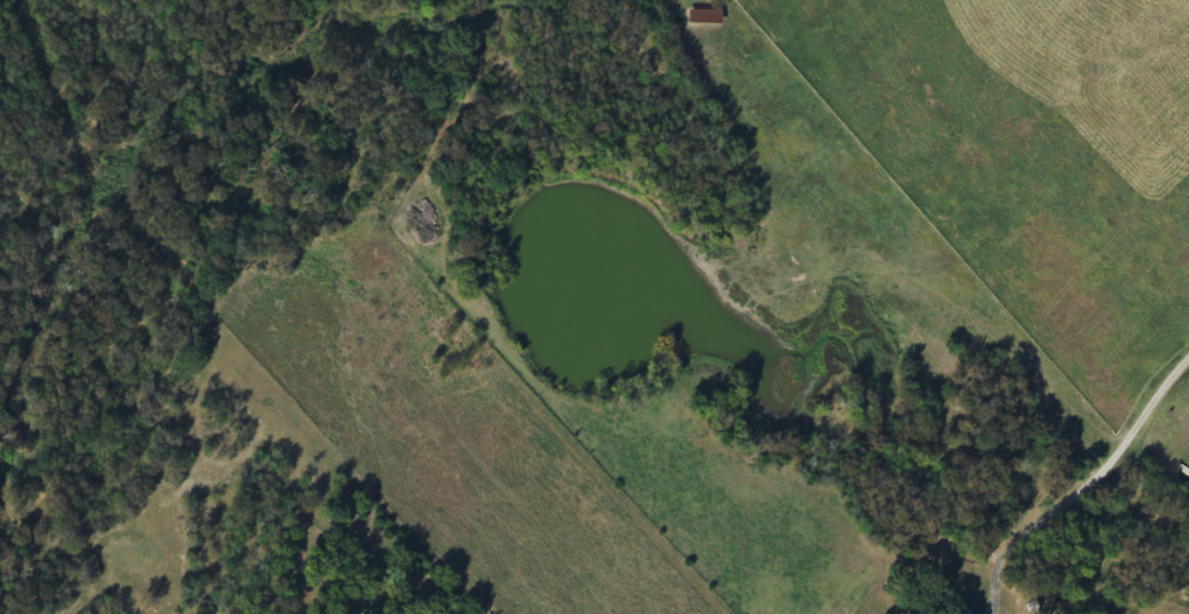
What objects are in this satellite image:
road: (1081, 483)

